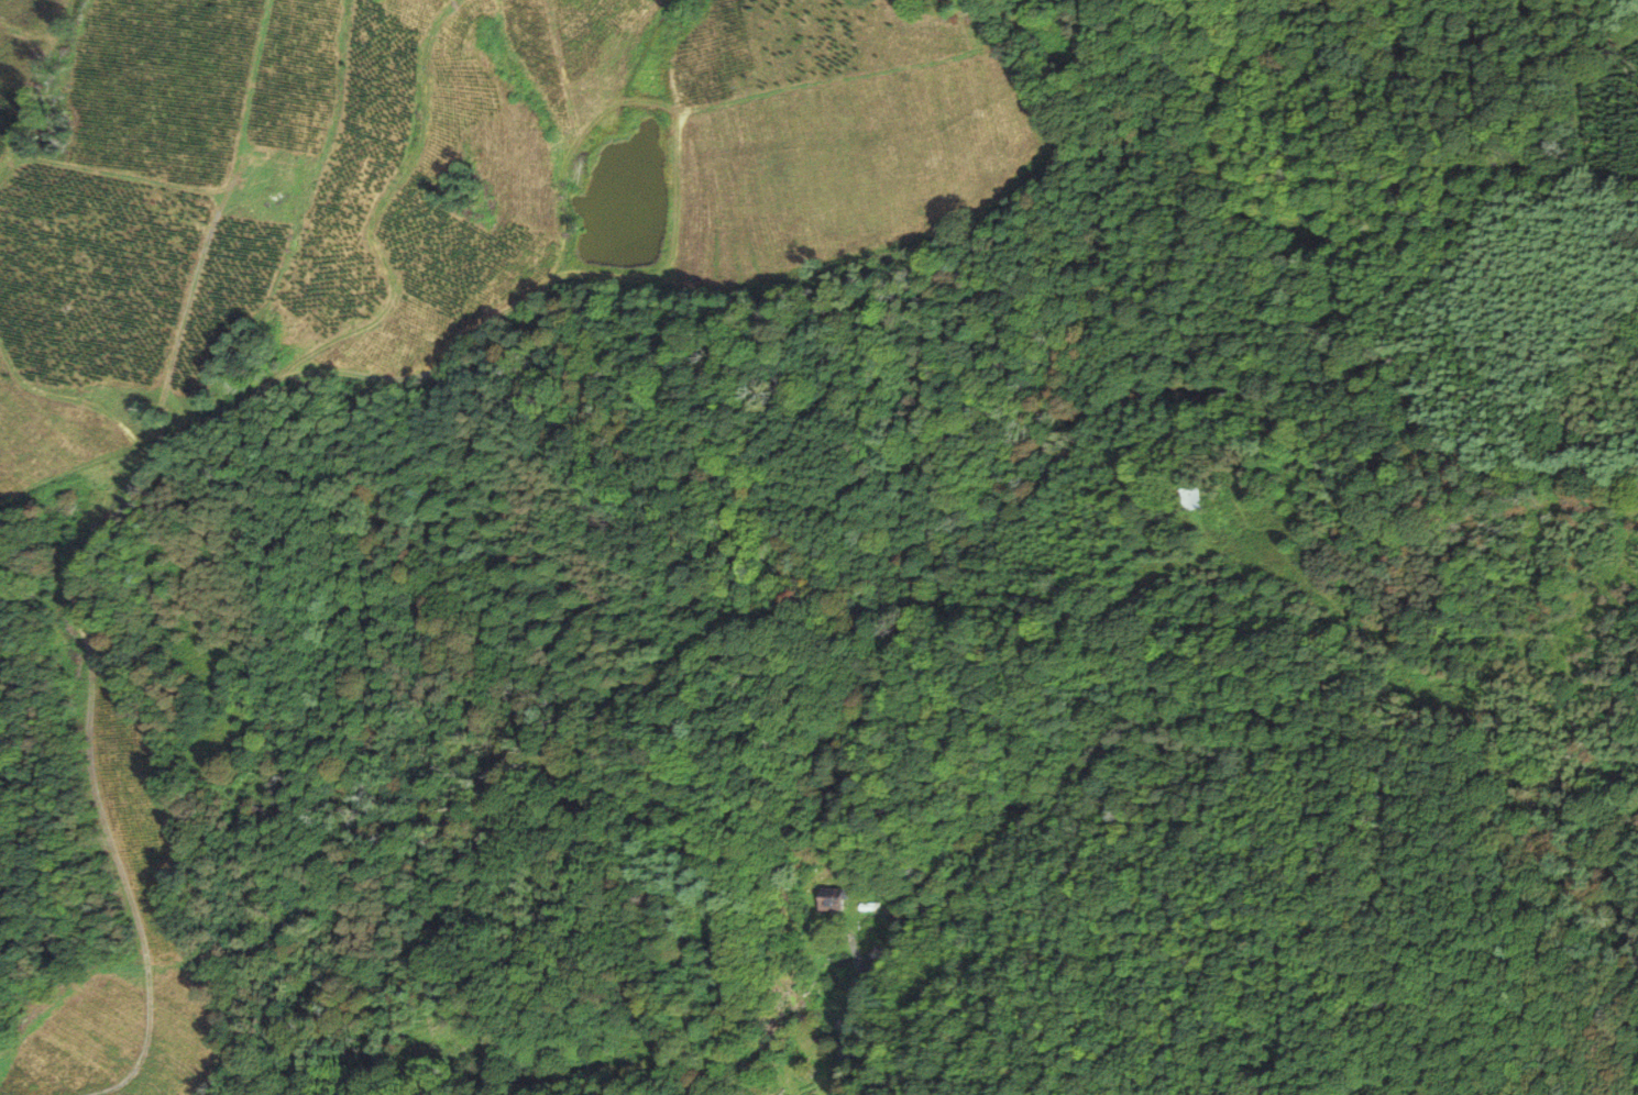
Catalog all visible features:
road: (1003, 15)
building: (1183, 496)
road: (78, 552)
building: (825, 904)
road: (828, 1025)

